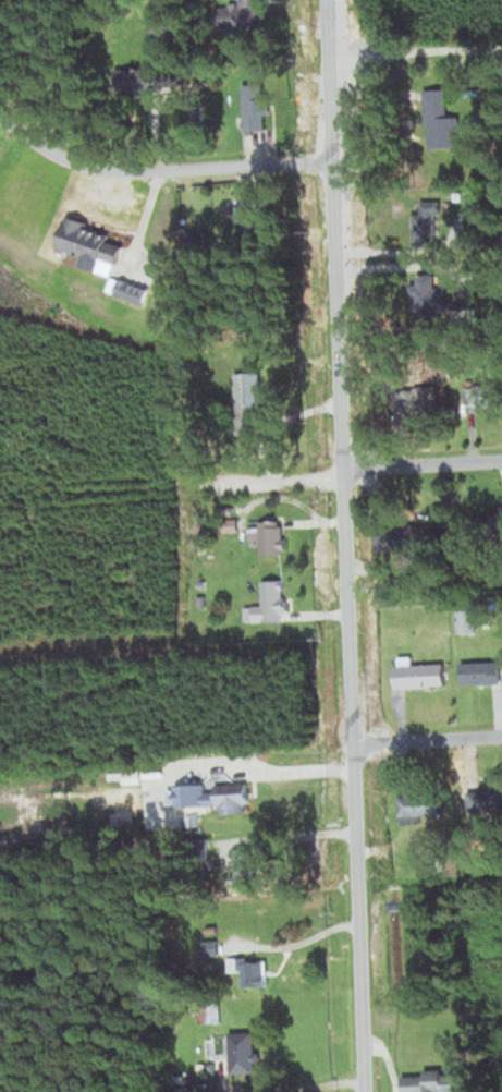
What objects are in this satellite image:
building: (238, 14)
building: (1, 17)
road: (413, 49)
building: (144, 81)
building: (124, 101)
building: (257, 101)
building: (439, 120)
road: (157, 170)
building: (425, 220)
building: (257, 223)
building: (197, 241)
building: (87, 242)
building: (131, 291)
building: (438, 304)
building: (481, 393)
building: (407, 399)
building: (248, 402)
road: (420, 463)
building: (486, 524)
building: (268, 534)
building: (406, 537)
road: (343, 545)
building: (266, 603)
road: (173, 650)
building: (481, 670)
building: (419, 674)
road: (427, 739)
building: (233, 796)
building: (485, 802)
building: (419, 806)
building: (192, 818)
building: (439, 864)
building: (248, 870)
building: (256, 964)
building: (216, 1014)
building: (208, 1047)
building: (243, 1053)
building: (187, 1057)
building: (199, 1065)
building: (210, 1068)
building: (191, 1079)
building: (429, 1083)
road: (286, 1085)

